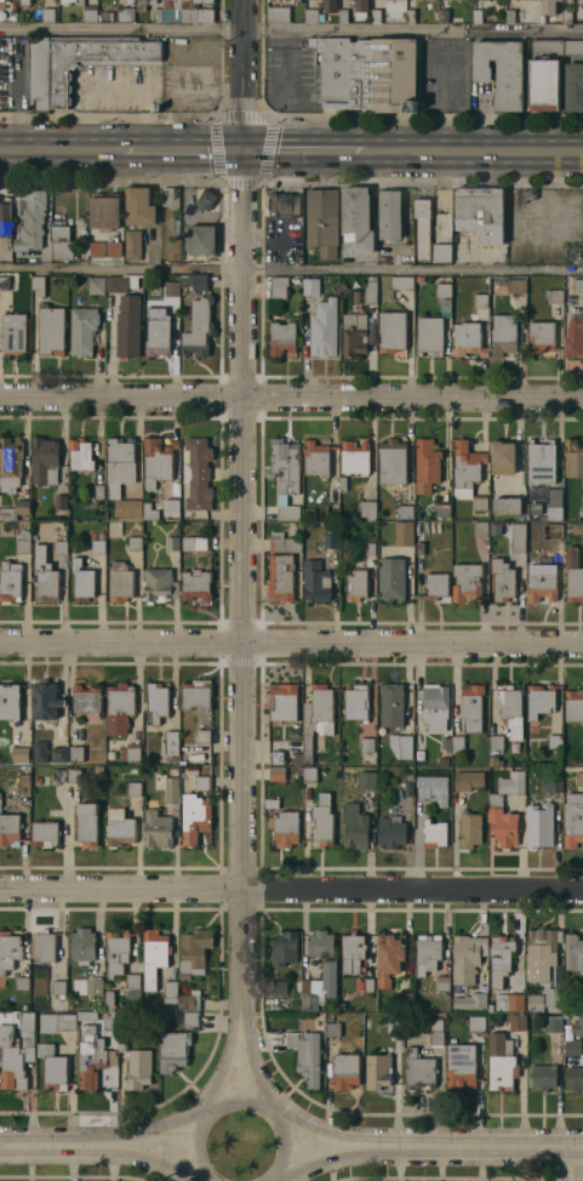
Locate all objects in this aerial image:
building: (202, 1)
building: (296, 1)
building: (24, 2)
building: (64, 2)
building: (2, 4)
building: (142, 4)
building: (328, 5)
building: (359, 5)
building: (176, 11)
building: (547, 11)
building: (47, 13)
building: (90, 13)
building: (122, 13)
building: (158, 13)
building: (276, 13)
building: (313, 13)
building: (105, 15)
building: (201, 15)
building: (343, 15)
building: (376, 15)
building: (410, 15)
building: (476, 15)
building: (510, 15)
building: (566, 15)
building: (444, 16)
road: (121, 28)
road: (412, 29)
building: (548, 45)
building: (573, 46)
building: (91, 57)
road: (291, 65)
building: (501, 70)
building: (36, 72)
building: (367, 73)
building: (543, 84)
building: (573, 87)
road: (61, 148)
road: (181, 149)
traffic signals: (241, 150)
road: (303, 150)
road: (474, 150)
building: (175, 190)
building: (206, 199)
building: (285, 204)
building: (138, 206)
building: (104, 210)
building: (480, 212)
building: (389, 213)
building: (5, 218)
building: (32, 219)
building: (321, 221)
building: (355, 221)
building: (422, 227)
building: (201, 240)
building: (61, 243)
building: (132, 244)
building: (96, 249)
building: (113, 249)
building: (441, 251)
building: (582, 253)
road: (291, 268)
building: (418, 278)
building: (4, 280)
building: (194, 280)
building: (121, 281)
building: (401, 281)
building: (38, 284)
building: (96, 285)
building: (515, 285)
building: (577, 285)
building: (279, 286)
building: (308, 291)
building: (370, 292)
building: (464, 292)
building: (554, 295)
building: (358, 296)
building: (480, 299)
building: (161, 320)
building: (434, 321)
building: (127, 325)
building: (198, 327)
building: (82, 329)
building: (51, 330)
building: (326, 331)
building: (391, 331)
building: (354, 332)
building: (13, 333)
building: (503, 333)
building: (539, 335)
building: (575, 336)
building: (281, 337)
building: (468, 338)
road: (291, 405)
building: (80, 453)
building: (354, 456)
building: (502, 456)
building: (573, 457)
building: (315, 458)
building: (120, 460)
building: (44, 461)
building: (156, 461)
building: (391, 461)
building: (10, 462)
building: (542, 462)
building: (284, 464)
building: (425, 464)
building: (467, 473)
building: (198, 474)
building: (342, 483)
building: (98, 490)
building: (59, 501)
building: (507, 504)
road: (241, 506)
building: (128, 508)
building: (171, 508)
building: (367, 508)
building: (15, 509)
building: (441, 509)
building: (405, 510)
building: (149, 512)
building: (287, 512)
building: (581, 512)
building: (554, 513)
building: (480, 527)
building: (577, 527)
building: (495, 529)
building: (402, 532)
building: (331, 537)
building: (518, 537)
building: (555, 540)
building: (23, 541)
building: (97, 541)
building: (172, 542)
building: (194, 542)
building: (282, 542)
building: (135, 543)
building: (59, 547)
building: (418, 547)
building: (370, 548)
building: (45, 575)
building: (573, 575)
building: (280, 577)
building: (390, 578)
building: (81, 580)
building: (502, 580)
building: (10, 581)
building: (120, 581)
building: (315, 581)
building: (467, 582)
building: (159, 584)
building: (356, 584)
building: (195, 586)
building: (434, 586)
building: (542, 587)
road: (291, 646)
building: (195, 694)
building: (86, 698)
building: (539, 700)
building: (10, 701)
building: (282, 701)
building: (156, 702)
building: (355, 702)
building: (44, 703)
building: (391, 704)
building: (573, 704)
building: (470, 706)
building: (119, 707)
building: (435, 707)
building: (510, 709)
building: (316, 715)
building: (202, 735)
building: (554, 741)
building: (171, 742)
building: (366, 743)
building: (446, 743)
building: (457, 743)
building: (495, 743)
building: (400, 746)
building: (39, 751)
building: (130, 752)
building: (58, 753)
building: (75, 753)
building: (19, 754)
building: (109, 754)
building: (275, 757)
building: (442, 759)
building: (492, 760)
building: (98, 769)
building: (276, 774)
building: (309, 774)
building: (59, 775)
building: (74, 775)
building: (579, 777)
building: (36, 778)
building: (366, 780)
building: (467, 780)
building: (202, 782)
building: (23, 783)
building: (553, 783)
building: (133, 788)
building: (407, 788)
building: (171, 791)
building: (270, 803)
building: (495, 810)
building: (194, 817)
building: (321, 820)
building: (572, 820)
building: (87, 823)
building: (354, 826)
building: (538, 826)
building: (119, 827)
building: (285, 828)
building: (8, 829)
building: (156, 829)
building: (469, 829)
building: (390, 831)
building: (44, 833)
building: (433, 833)
road: (65, 846)
road: (291, 890)
building: (320, 943)
building: (82, 945)
building: (44, 946)
building: (8, 948)
building: (284, 948)
building: (194, 951)
building: (542, 951)
building: (116, 952)
building: (351, 952)
building: (427, 952)
building: (573, 952)
building: (501, 953)
building: (154, 957)
building: (389, 957)
building: (465, 958)
building: (21, 982)
building: (441, 982)
building: (368, 985)
building: (93, 986)
building: (132, 986)
building: (319, 986)
building: (58, 987)
building: (279, 987)
building: (170, 991)
building: (553, 998)
building: (109, 1000)
building: (189, 1000)
building: (404, 1000)
building: (470, 1000)
building: (509, 1002)
building: (535, 1002)
building: (23, 1006)
building: (95, 1008)
building: (190, 1017)
building: (491, 1020)
building: (56, 1021)
building: (516, 1021)
building: (476, 1022)
building: (553, 1023)
building: (577, 1025)
building: (331, 1026)
building: (435, 1031)
building: (95, 1044)
building: (122, 1044)
building: (16, 1046)
building: (572, 1046)
building: (173, 1049)
building: (305, 1055)
building: (499, 1061)
road: (232, 1063)
road: (245, 1065)
building: (461, 1066)
building: (52, 1067)
building: (138, 1068)
building: (417, 1068)
building: (377, 1069)
building: (345, 1071)
building: (542, 1076)
building: (573, 1078)
road: (240, 1100)
road: (318, 1134)
road: (154, 1139)
road: (47, 1142)
road: (474, 1148)
road: (152, 1151)
road: (313, 1152)
road: (208, 1177)
road: (265, 1179)

